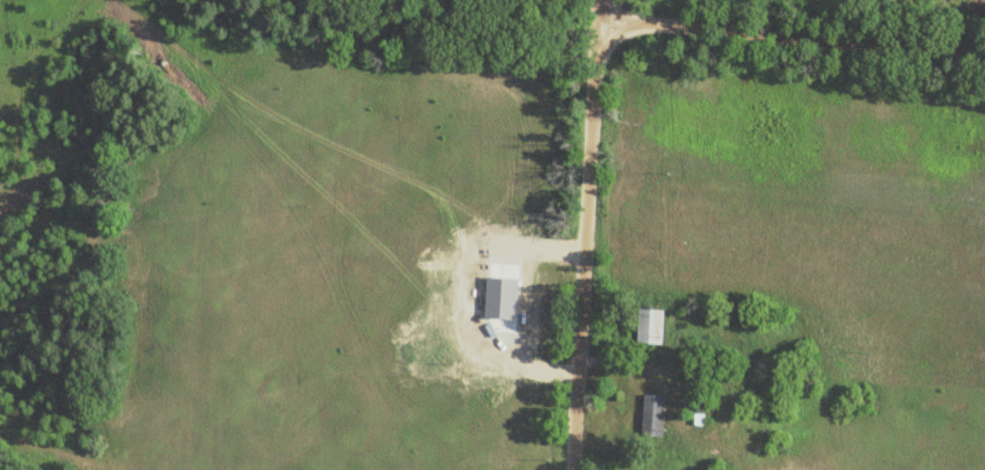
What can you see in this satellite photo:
road: (794, 35)
road: (593, 235)
building: (649, 326)
building: (651, 416)

